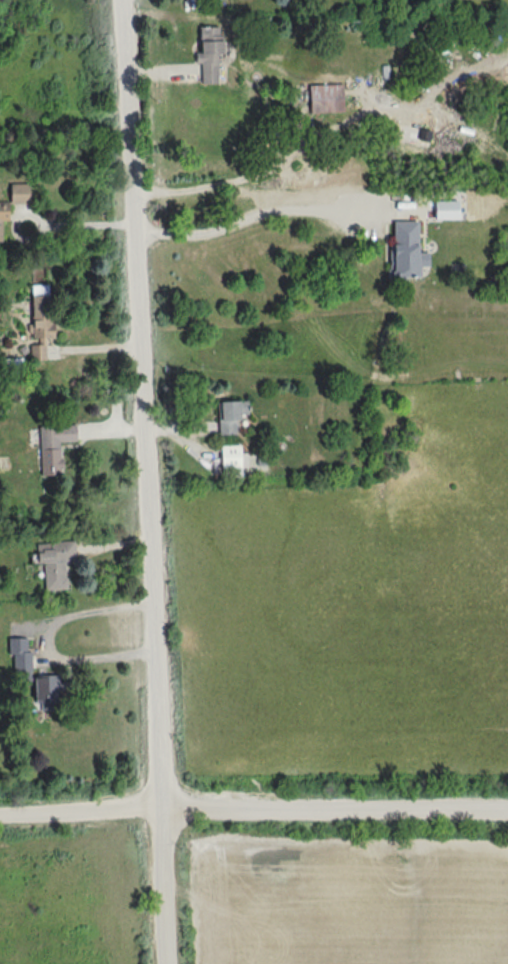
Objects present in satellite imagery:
building: (209, 55)
building: (324, 99)
road: (263, 173)
building: (18, 194)
road: (274, 211)
road: (90, 223)
building: (2, 227)
road: (13, 232)
building: (405, 251)
building: (38, 328)
building: (10, 366)
building: (228, 418)
building: (53, 445)
building: (230, 457)
road: (153, 481)
building: (55, 566)
road: (45, 640)
building: (18, 655)
building: (43, 693)
road: (253, 807)

